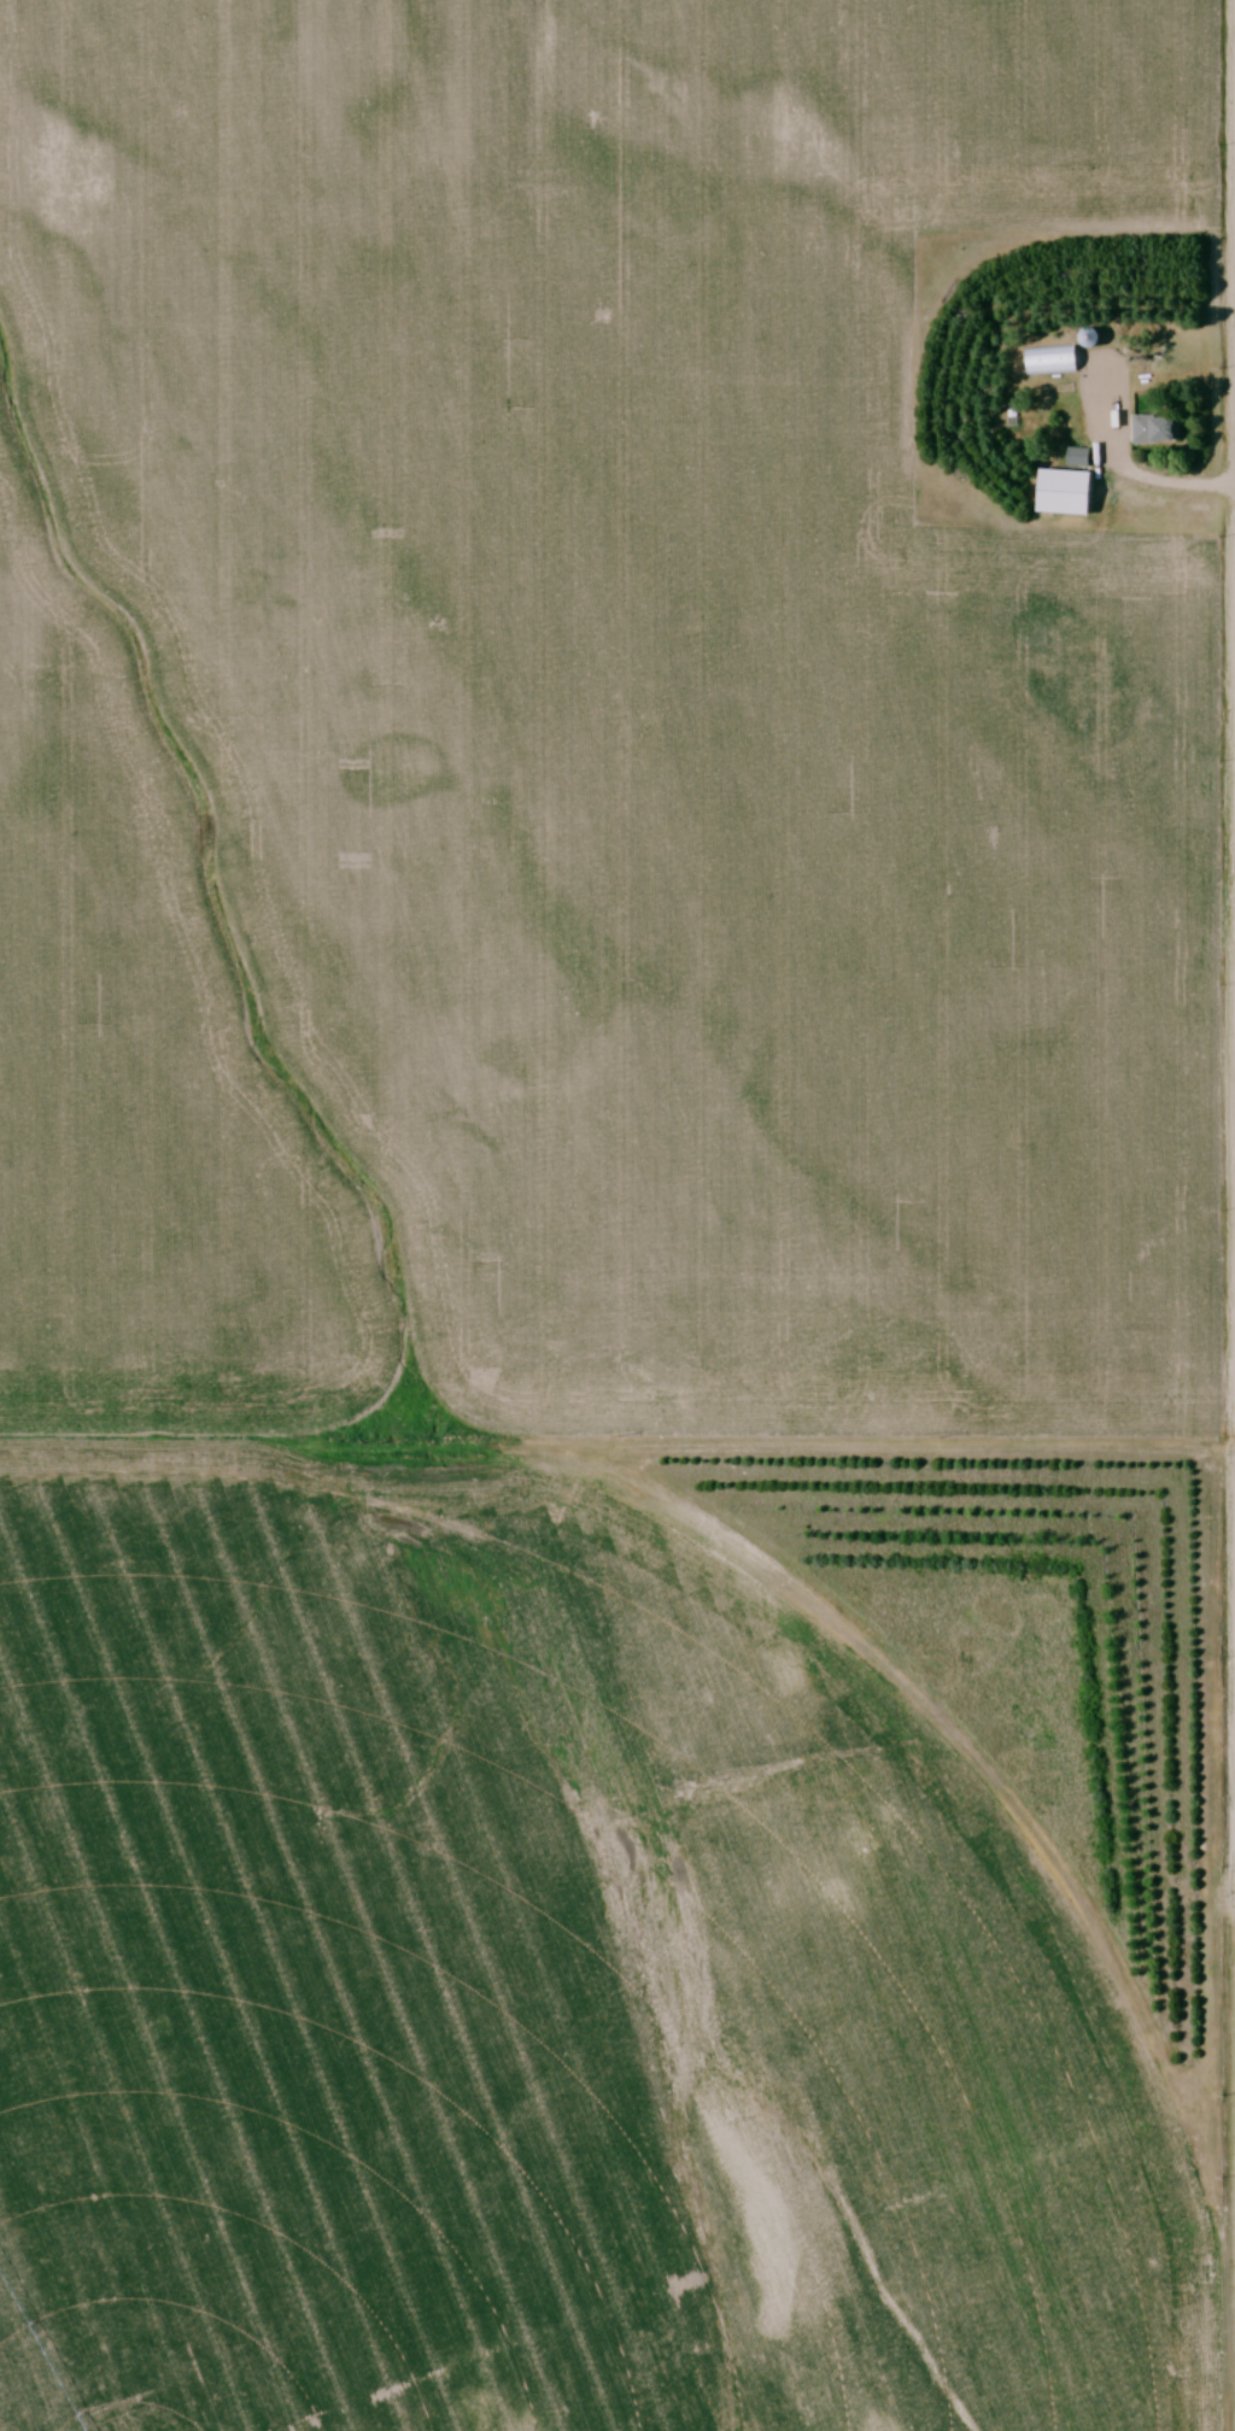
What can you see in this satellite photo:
building: (1098, 336)
building: (1054, 361)
building: (1160, 429)
road: (1129, 465)
building: (1072, 492)

